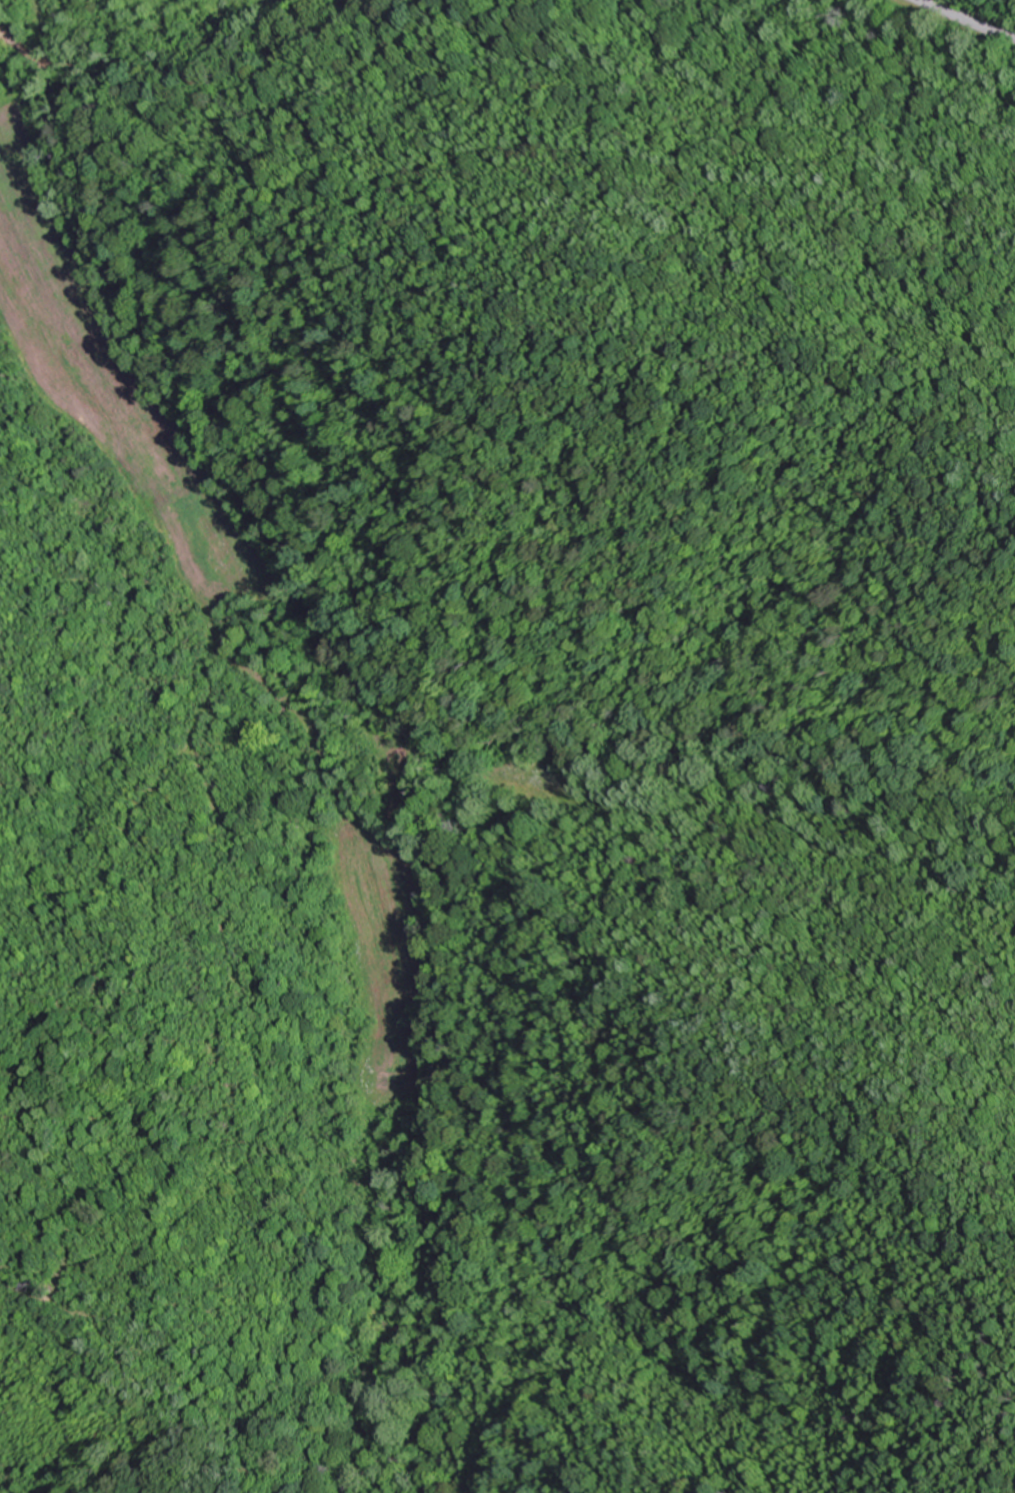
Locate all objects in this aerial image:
road: (968, 19)

